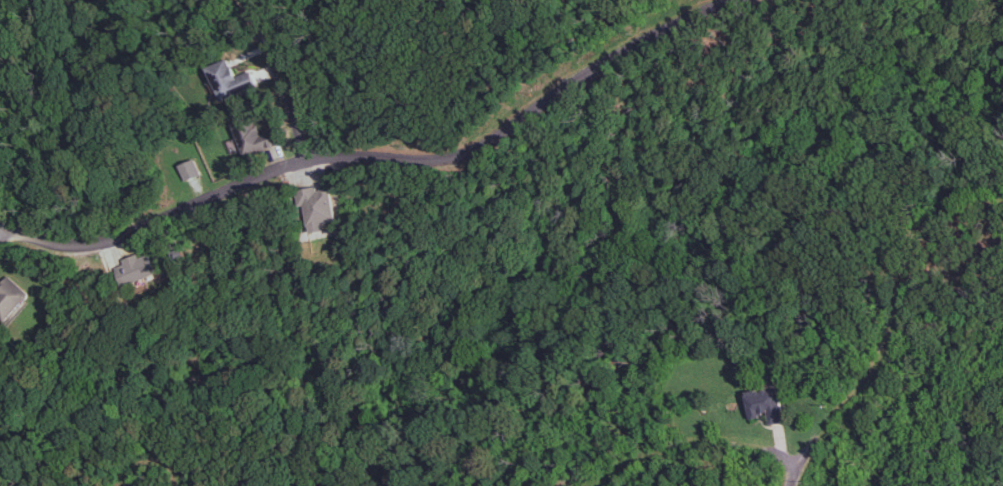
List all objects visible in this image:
road: (280, 76)
building: (229, 79)
building: (252, 136)
road: (377, 156)
building: (188, 169)
building: (316, 206)
road: (4, 232)
building: (135, 269)
building: (10, 297)
building: (764, 404)
road: (691, 441)
road: (795, 474)
road: (149, 483)

